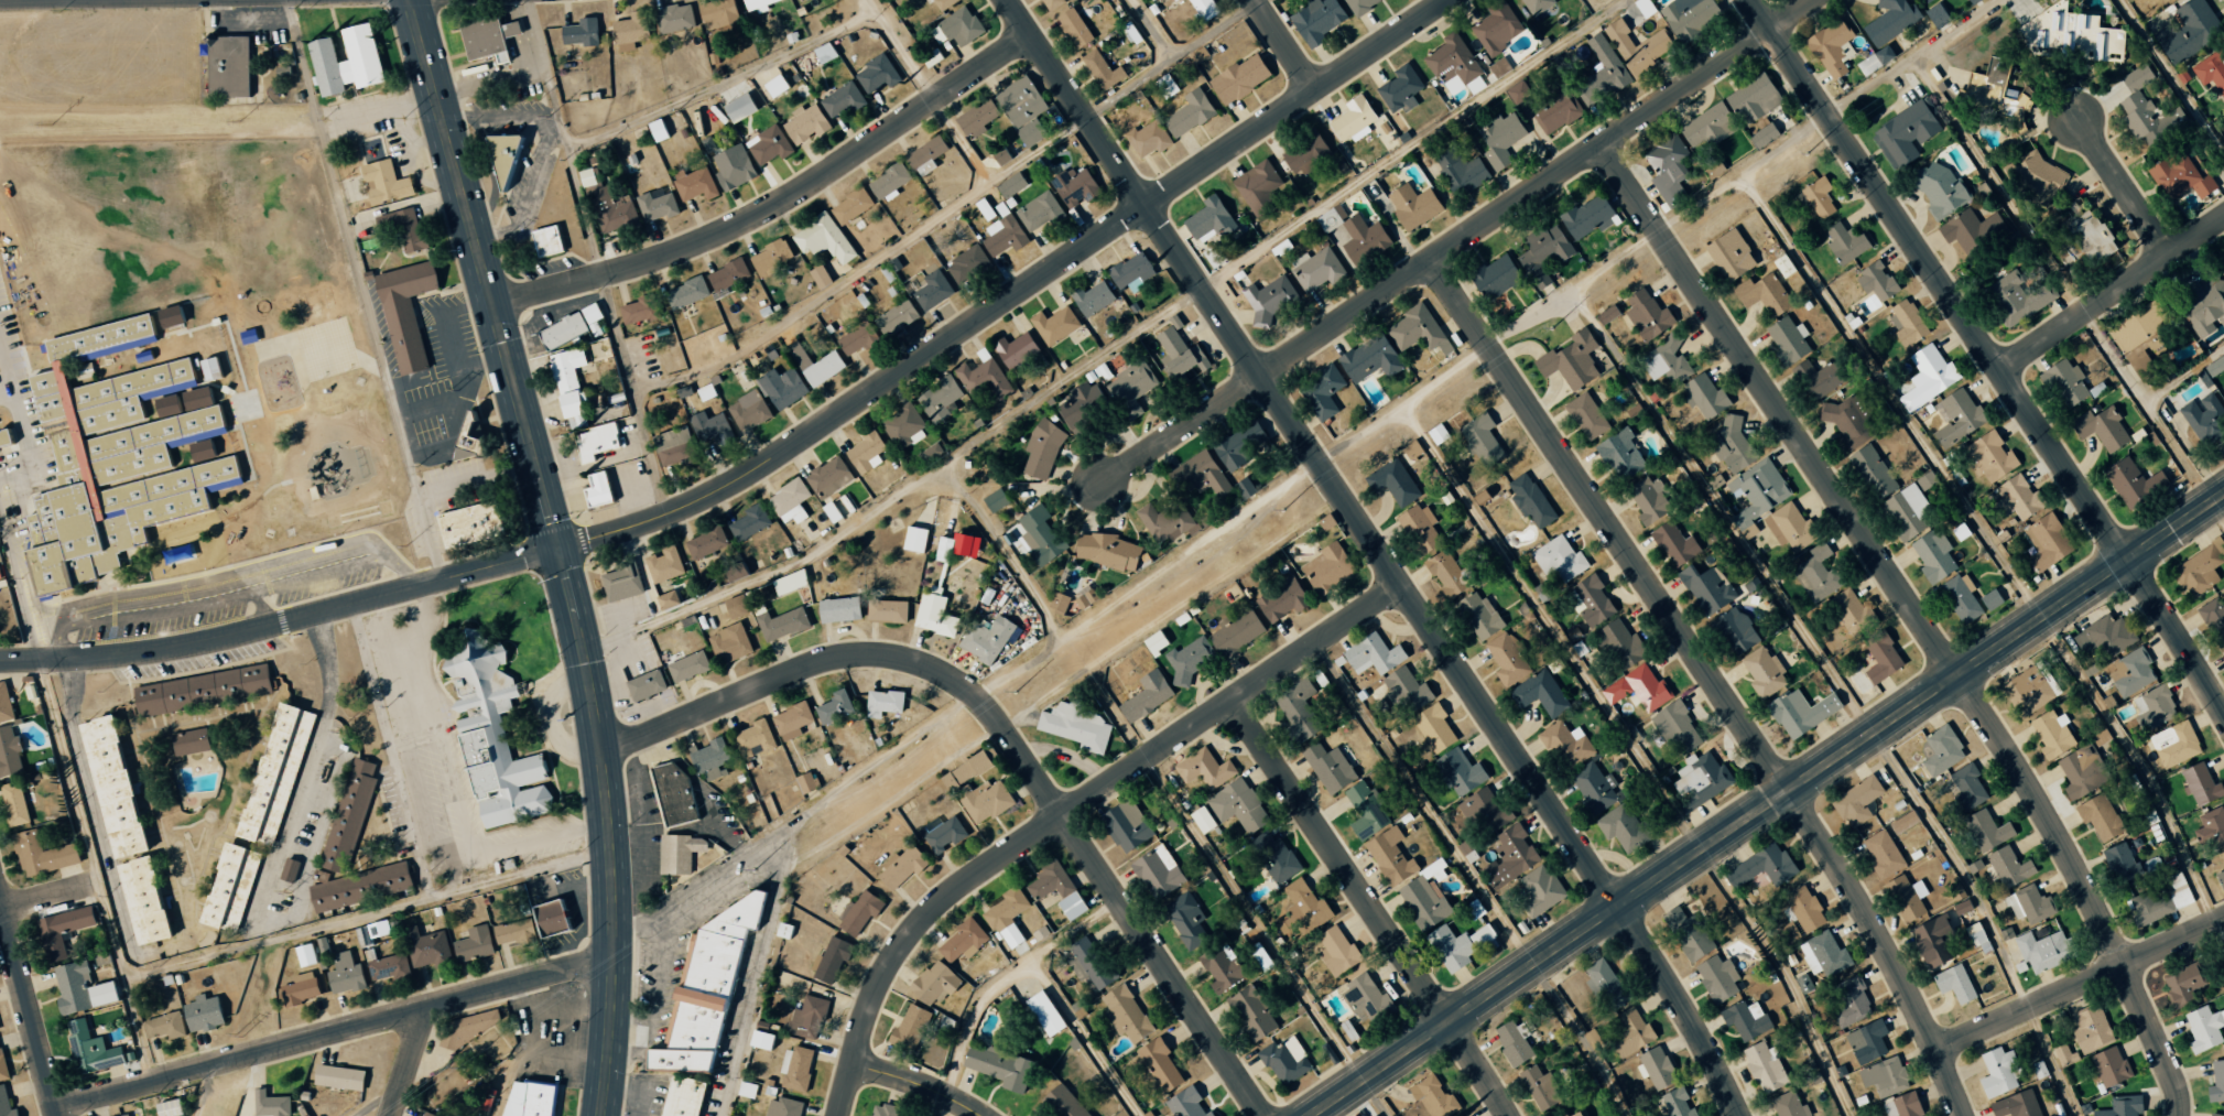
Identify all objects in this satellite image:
building: (1925, 0)
building: (1973, 1)
building: (943, 3)
building: (1051, 3)
building: (757, 4)
building: (1359, 4)
building: (1536, 4)
building: (1643, 8)
building: (1203, 10)
building: (718, 13)
building: (1936, 15)
building: (1689, 17)
building: (674, 18)
building: (1317, 20)
building: (1890, 21)
building: (961, 26)
building: (1073, 28)
building: (1497, 28)
road: (1211, 30)
building: (630, 31)
building: (2188, 31)
building: (579, 32)
building: (2071, 34)
building: (487, 35)
road: (1943, 37)
road: (1283, 45)
building: (1637, 47)
building: (1831, 47)
road: (899, 50)
building: (823, 52)
building: (1874, 61)
building: (348, 62)
building: (1454, 65)
building: (226, 66)
building: (281, 66)
building: (1498, 67)
road: (1152, 68)
building: (1102, 69)
building: (2211, 71)
building: (1601, 72)
building: (875, 74)
building: (1238, 79)
road: (720, 84)
road: (1900, 84)
building: (774, 85)
building: (1165, 86)
building: (1400, 88)
building: (1999, 90)
building: (1754, 99)
building: (840, 100)
building: (738, 107)
building: (1022, 109)
building: (2146, 110)
building: (1189, 113)
power tower: (550, 115)
building: (1555, 116)
power tower: (403, 118)
building: (975, 118)
power tower: (239, 119)
building: (1352, 120)
power tower: (52, 123)
building: (804, 123)
building: (1708, 126)
building: (657, 130)
building: (1905, 133)
building: (1762, 136)
road: (562, 138)
building: (1148, 138)
building: (1499, 140)
building: (768, 144)
power tower: (1807, 152)
building: (506, 154)
building: (1305, 154)
building: (925, 155)
building: (733, 166)
building: (1667, 167)
building: (1712, 169)
building: (1460, 171)
road: (1743, 173)
building: (2040, 174)
building: (586, 177)
building: (384, 181)
building: (888, 182)
building: (695, 184)
building: (1010, 185)
building: (1074, 186)
building: (1258, 187)
building: (1939, 189)
road: (2123, 189)
building: (1818, 198)
road: (780, 202)
building: (657, 204)
building: (850, 206)
building: (1412, 206)
building: (984, 208)
building: (1039, 212)
building: (1586, 216)
building: (1208, 220)
building: (406, 228)
road: (479, 230)
building: (1970, 230)
building: (2091, 234)
building: (1003, 235)
building: (547, 239)
building: (823, 239)
building: (1363, 239)
power tower: (507, 240)
road: (1454, 243)
building: (1843, 243)
building: (1543, 254)
building: (1728, 254)
building: (770, 257)
building: (967, 264)
building: (1317, 270)
building: (1130, 272)
building: (370, 273)
building: (728, 275)
building: (820, 277)
building: (1495, 278)
building: (1876, 281)
road: (1573, 289)
road: (361, 291)
building: (932, 291)
building: (686, 293)
building: (1762, 294)
road: (2112, 294)
building: (2018, 297)
building: (1092, 299)
building: (1269, 299)
building: (2203, 307)
building: (640, 310)
building: (408, 311)
building: (1648, 315)
building: (169, 316)
building: (894, 317)
building: (1908, 323)
building: (1054, 325)
building: (574, 326)
power tower: (1551, 328)
building: (1418, 331)
building: (856, 338)
building: (2142, 338)
building: (1788, 339)
building: (1017, 350)
building: (1180, 355)
building: (1369, 359)
building: (1570, 360)
road: (1992, 360)
building: (1667, 361)
building: (818, 366)
building: (2215, 366)
building: (209, 368)
building: (1928, 377)
building: (1819, 378)
building: (985, 379)
building: (2063, 381)
building: (579, 387)
building: (782, 387)
power tower: (458, 389)
building: (1131, 389)
building: (704, 392)
building: (1325, 392)
building: (1704, 396)
road: (1890, 397)
building: (940, 399)
building: (1082, 405)
building: (748, 410)
building: (1586, 415)
building: (2203, 416)
building: (1956, 418)
building: (1848, 420)
building: (904, 426)
building: (2102, 427)
building: (713, 429)
building: (1436, 434)
building: (4, 437)
building: (473, 438)
building: (1482, 438)
building: (598, 440)
building: (1240, 446)
building: (1733, 446)
building: (119, 449)
building: (675, 449)
building: (1041, 449)
building: (1411, 449)
building: (866, 452)
building: (1620, 454)
road: (775, 455)
building: (1989, 456)
building: (1873, 472)
building: (828, 477)
road: (479, 480)
building: (1200, 480)
building: (1927, 480)
building: (1392, 483)
building: (2133, 483)
building: (1244, 488)
building: (599, 490)
building: (1757, 494)
building: (1478, 497)
building: (2017, 498)
building: (1529, 499)
building: (995, 500)
building: (1649, 500)
building: (789, 501)
road: (551, 506)
power tower: (1282, 510)
building: (1907, 511)
building: (831, 512)
road: (1722, 512)
road: (860, 520)
building: (471, 521)
building: (1163, 521)
building: (749, 522)
building: (1325, 522)
building: (1194, 526)
building: (1790, 527)
building: (1419, 528)
building: (809, 529)
building: (1961, 532)
building: (1038, 535)
building: (913, 539)
building: (2047, 541)
building: (705, 542)
building: (1674, 543)
power tower: (406, 544)
building: (955, 546)
traffic signals: (562, 549)
building: (1107, 551)
road: (1379, 553)
building: (1934, 555)
building: (1559, 559)
building: (664, 564)
building: (1325, 567)
building: (2198, 570)
building: (1446, 573)
building: (1816, 573)
building: (0, 577)
road: (1146, 579)
building: (622, 581)
building: (789, 582)
road: (569, 584)
building: (1706, 588)
building: (986, 595)
road: (19, 596)
building: (757, 596)
road: (229, 597)
building: (1961, 597)
building: (666, 599)
building: (1990, 599)
building: (1280, 600)
building: (1593, 600)
building: (1057, 603)
building: (838, 609)
road: (260, 610)
building: (887, 610)
building: (1852, 611)
building: (933, 615)
building: (1478, 616)
road: (1917, 616)
building: (2214, 618)
building: (781, 624)
building: (1736, 631)
building: (1235, 635)
building: (2105, 636)
building: (986, 639)
building: (1154, 642)
building: (729, 643)
building: (1621, 644)
building: (2223, 650)
building: (1371, 654)
building: (1189, 659)
building: (1508, 659)
building: (1881, 659)
building: (687, 667)
building: (1764, 672)
building: (2130, 672)
road: (1713, 678)
building: (647, 684)
building: (1406, 689)
building: (1638, 689)
building: (202, 690)
building: (2028, 690)
power tower: (1015, 692)
building: (1540, 694)
building: (1146, 696)
building: (4, 703)
building: (882, 703)
building: (2155, 706)
building: (834, 707)
building: (1297, 708)
building: (1801, 712)
building: (790, 720)
building: (1076, 726)
building: (1433, 727)
building: (1675, 727)
power tower: (344, 733)
building: (2052, 734)
building: (491, 735)
building: (2102, 737)
building: (752, 738)
road: (1007, 739)
building: (189, 741)
building: (1567, 744)
building: (2174, 744)
building: (9, 751)
road: (392, 751)
building: (1942, 751)
building: (709, 758)
building: (1328, 767)
building: (1203, 768)
building: (964, 770)
building: (1460, 771)
building: (2082, 771)
building: (274, 773)
road: (306, 773)
building: (1702, 777)
building: (804, 781)
building: (2200, 784)
building: (110, 785)
building: (1593, 785)
building: (1967, 787)
building: (675, 794)
building: (984, 800)
building: (1856, 801)
building: (14, 803)
building: (1238, 804)
road: (1768, 805)
building: (1480, 809)
road: (1071, 810)
road: (94, 811)
building: (1365, 811)
building: (348, 813)
building: (2100, 816)
building: (1201, 819)
building: (1902, 822)
building: (1126, 825)
building: (1627, 828)
building: (2211, 828)
building: (1987, 830)
building: (944, 835)
road: (322, 841)
building: (680, 853)
building: (42, 854)
building: (1881, 854)
building: (1389, 856)
building: (1274, 857)
building: (1510, 857)
building: (2120, 863)
road: (609, 867)
building: (900, 867)
building: (1760, 867)
building: (2008, 867)
building: (290, 869)
power tower: (753, 870)
building: (1157, 871)
building: (2220, 878)
building: (229, 887)
building: (359, 888)
building: (1055, 889)
building: (1540, 890)
power tower: (290, 892)
road: (46, 896)
building: (1424, 897)
building: (1905, 898)
building: (141, 900)
building: (2159, 901)
road: (1, 904)
building: (2028, 904)
building: (1305, 907)
building: (1962, 907)
road: (1, 909)
building: (1005, 909)
road: (1371, 909)
building: (1474, 909)
building: (1804, 909)
building: (860, 911)
building: (553, 917)
building: (1185, 919)
building: (62, 928)
building: (377, 929)
building: (782, 931)
building: (514, 932)
building: (1688, 933)
building: (1480, 935)
road: (2218, 935)
building: (1977, 936)
road: (1266, 939)
building: (962, 941)
building: (1931, 941)
building: (474, 943)
building: (1450, 947)
building: (430, 950)
building: (1337, 951)
building: (2039, 951)
building: (305, 954)
building: (1824, 954)
road: (211, 957)
building: (832, 958)
building: (1261, 960)
building: (1092, 963)
building: (387, 965)
building: (1219, 968)
building: (345, 973)
building: (1716, 977)
road: (1783, 978)
building: (933, 983)
building: (1604, 984)
building: (1954, 984)
road: (2079, 984)
building: (2181, 984)
road: (998, 985)
building: (79, 988)
building: (300, 988)
building: (707, 989)
building: (1365, 997)
building: (1851, 1003)
road: (29, 1011)
building: (1043, 1012)
building: (1125, 1012)
building: (1250, 1012)
building: (202, 1014)
building: (807, 1017)
building: (1745, 1019)
building: (164, 1026)
building: (469, 1026)
building: (908, 1028)
building: (2090, 1028)
building: (2204, 1028)
road: (332, 1033)
building: (1629, 1033)
power tower: (242, 1037)
road: (1583, 1038)
building: (760, 1039)
building: (1512, 1041)
building: (1867, 1041)
building: (90, 1047)
building: (2063, 1054)
building: (1284, 1061)
road: (409, 1062)
building: (3, 1063)
building: (1159, 1064)
building: (999, 1066)
building: (1764, 1066)
building: (2108, 1066)
building: (795, 1068)
building: (1656, 1068)
power tower: (462, 1069)
building: (1998, 1072)
building: (337, 1076)
building: (1885, 1076)
building: (2216, 1081)
road: (918, 1084)
building: (1539, 1087)
building: (746, 1090)
road: (629, 1095)
building: (1060, 1095)
building: (1432, 1096)
building: (685, 1097)
building: (527, 1098)
building: (6, 1102)
road: (375, 1103)
building: (1677, 1103)
building: (269, 1104)
building: (1902, 1105)
building: (2016, 1105)
building: (2122, 1106)
building: (166, 1107)
building: (783, 1107)
building: (880, 1109)
building: (1572, 1114)
building: (22, 1115)
building: (124, 1115)
building: (424, 1115)
building: (1376, 1115)
building: (2213, 1115)

